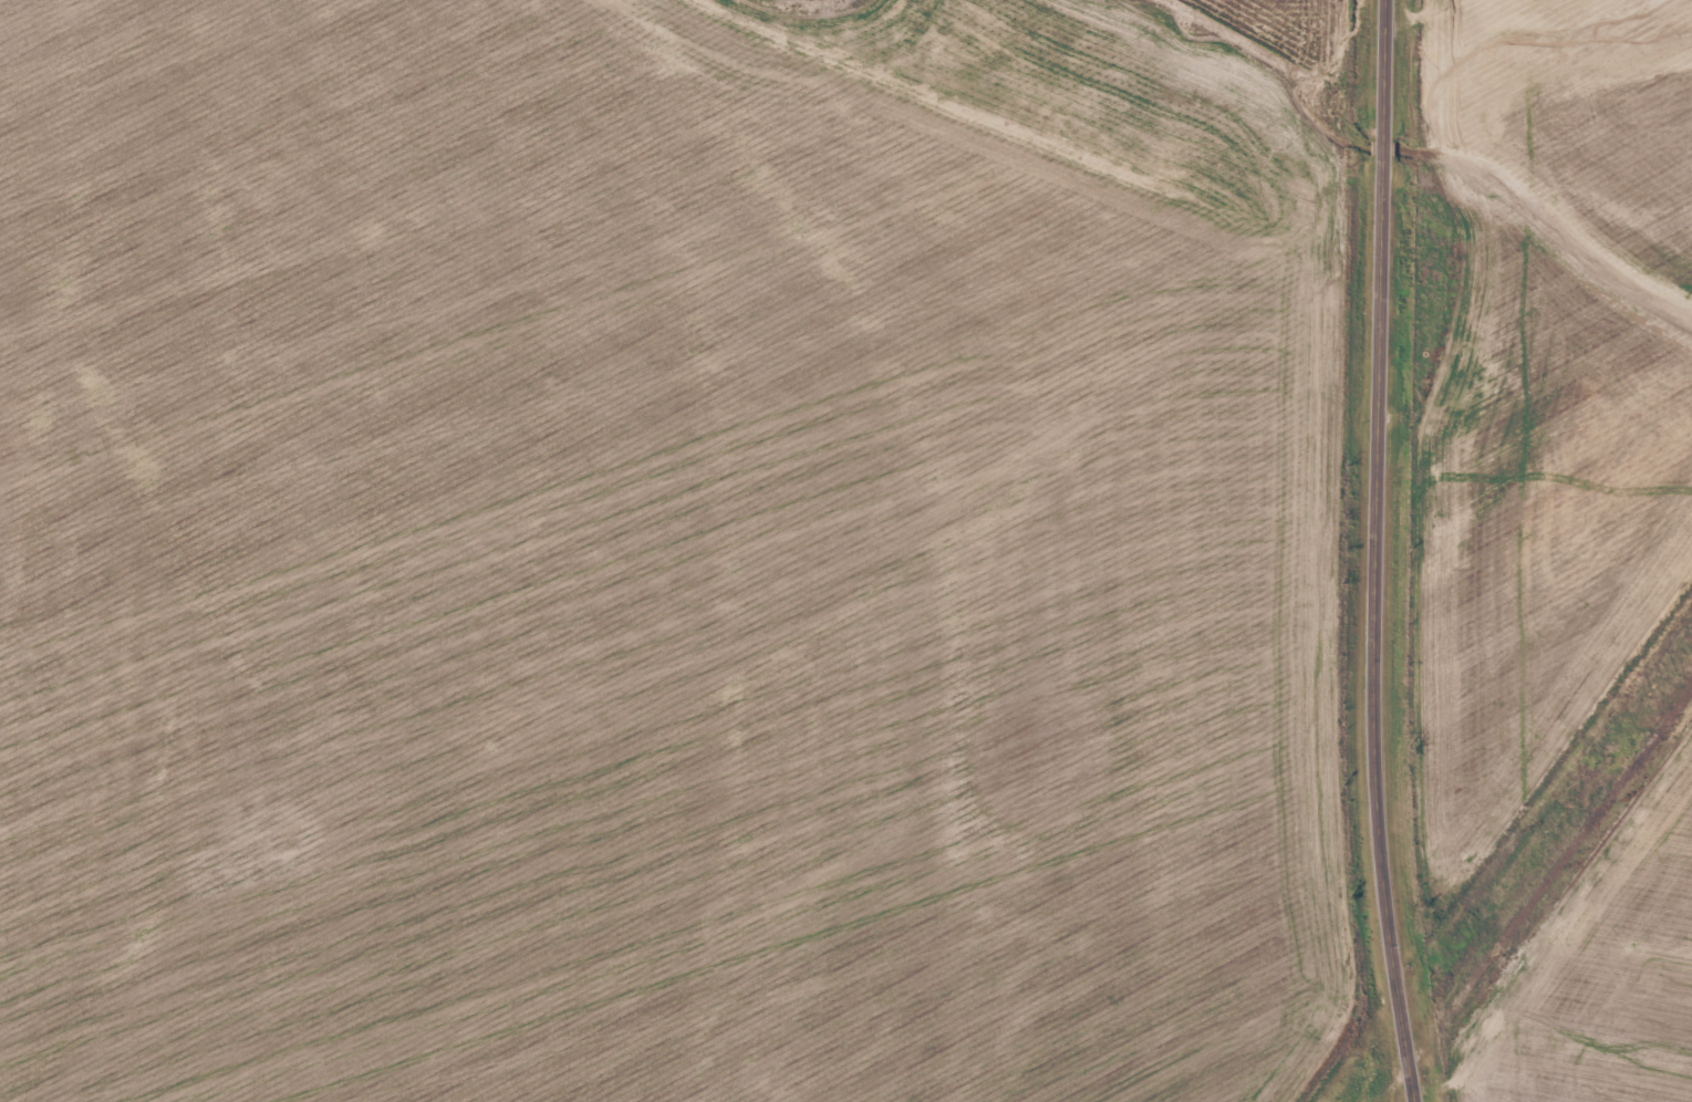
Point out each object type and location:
road: (1377, 552)

